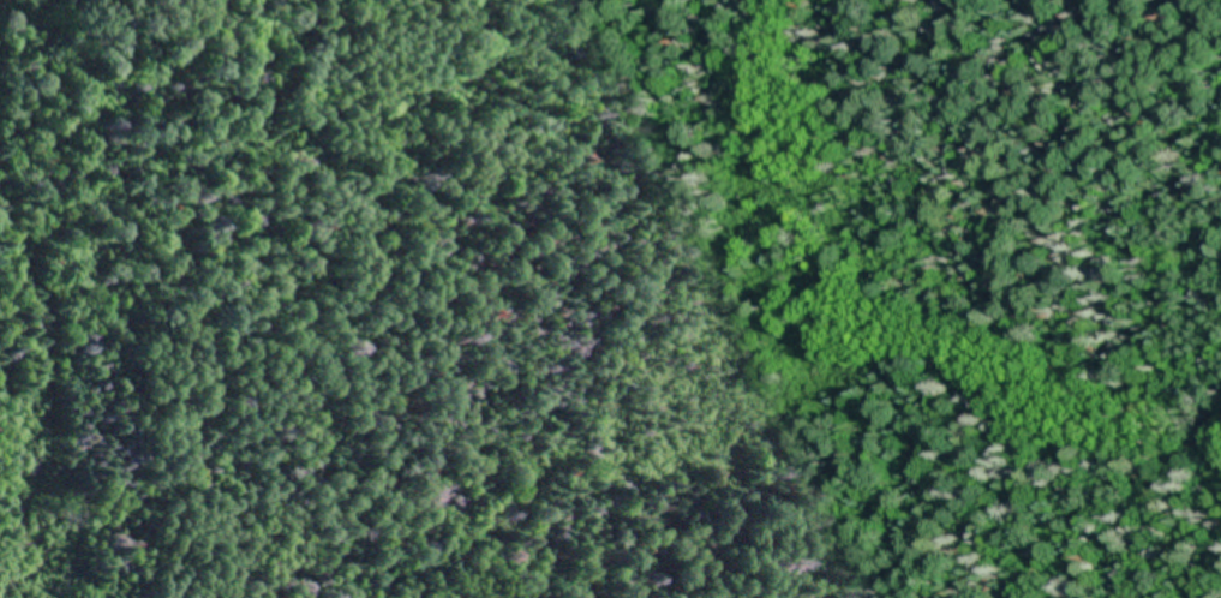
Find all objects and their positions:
road: (1114, 498)

